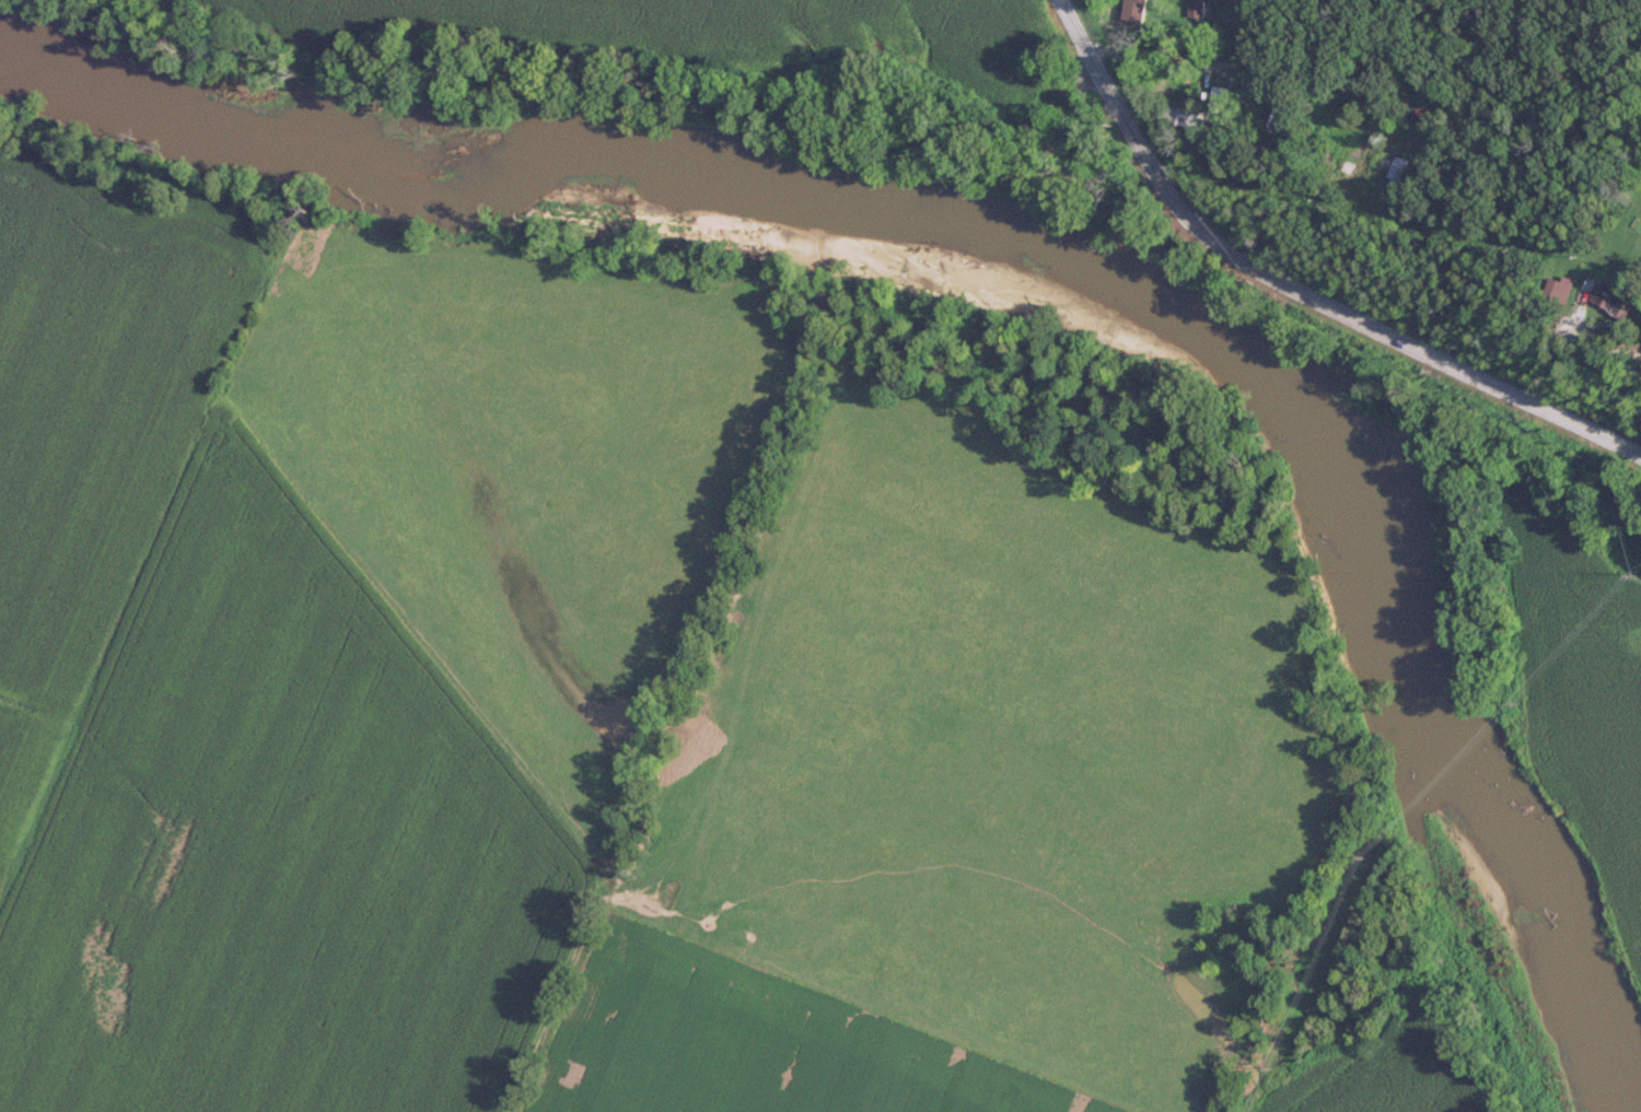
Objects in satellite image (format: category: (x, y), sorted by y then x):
building: (1134, 11)
road: (1233, 66)
building: (1219, 100)
building: (1275, 116)
building: (1357, 150)
building: (1102, 165)
river: (1041, 243)
road: (1295, 288)
building: (1614, 296)
road: (1611, 351)
crop: (95, 423)
crop: (281, 847)
crop: (749, 1045)
crop: (1393, 1070)

